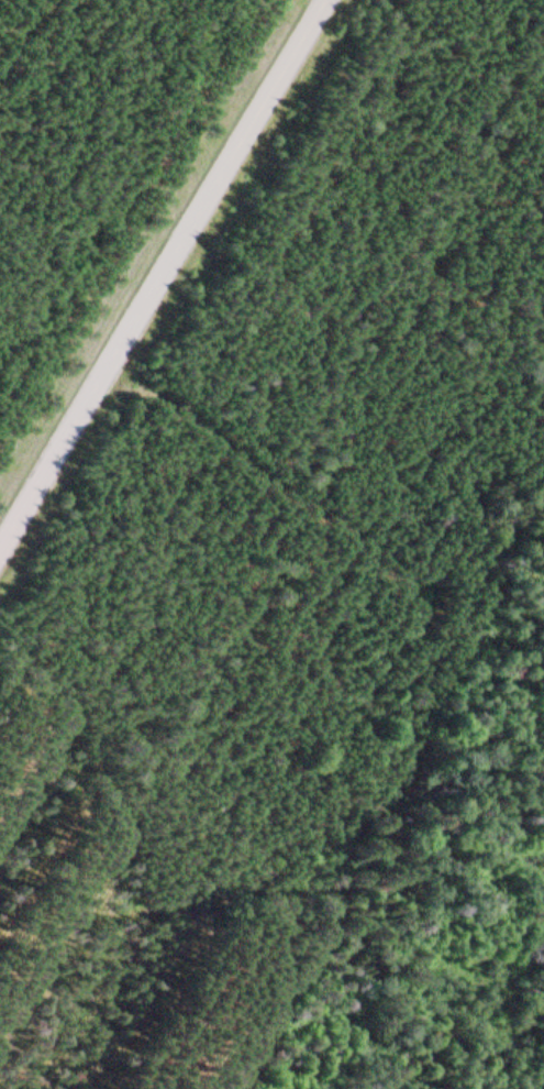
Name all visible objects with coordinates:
road: (165, 276)

